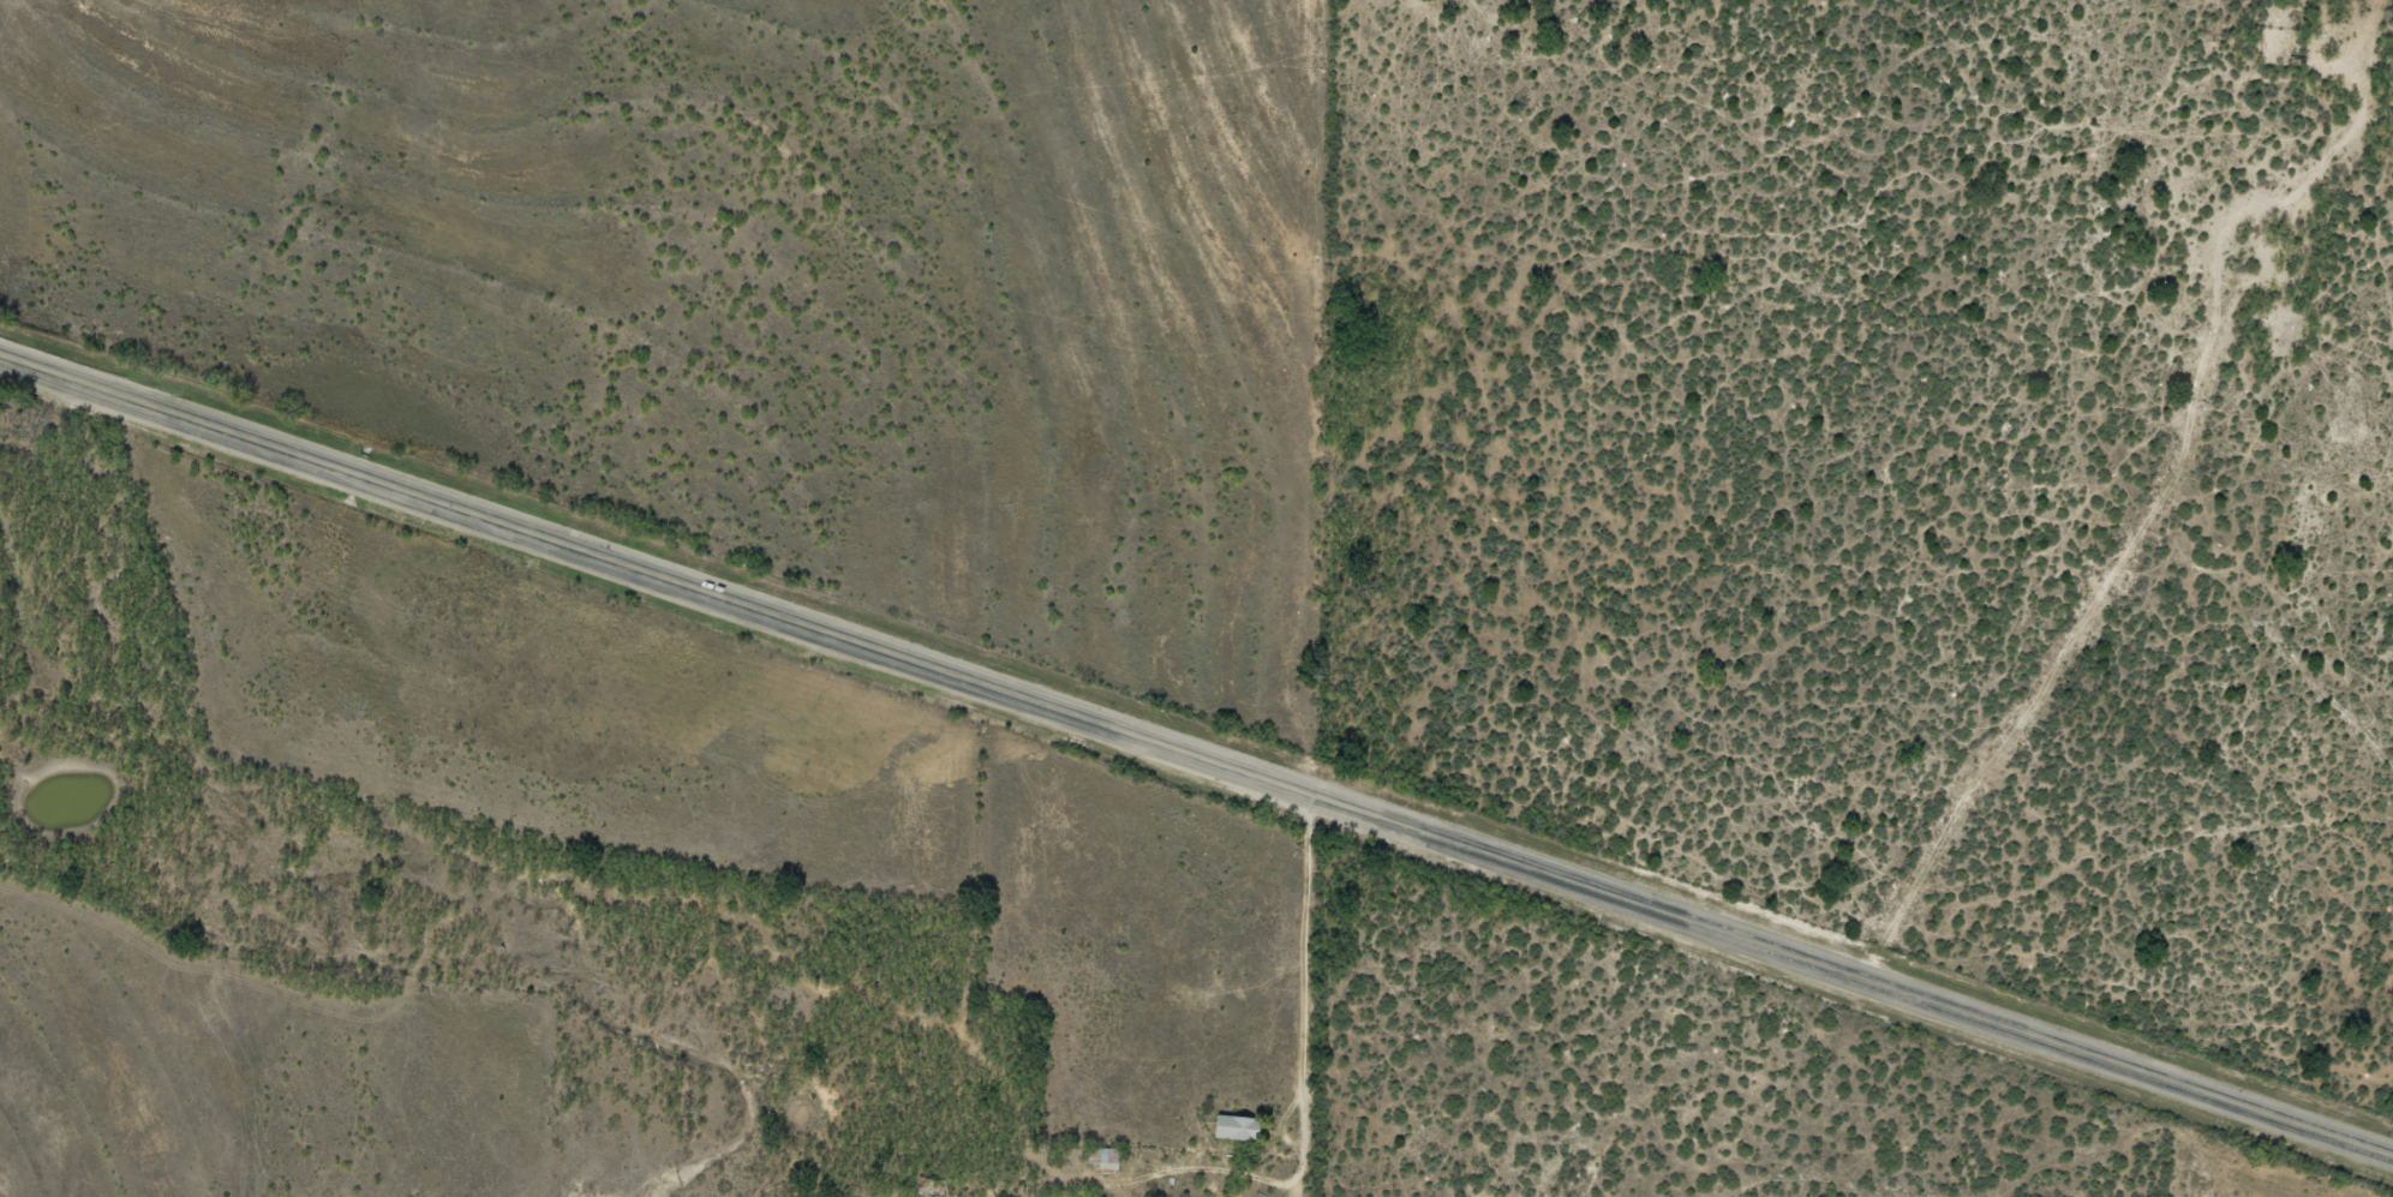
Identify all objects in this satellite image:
road: (1196, 756)
building: (1239, 1126)
building: (1105, 1157)

